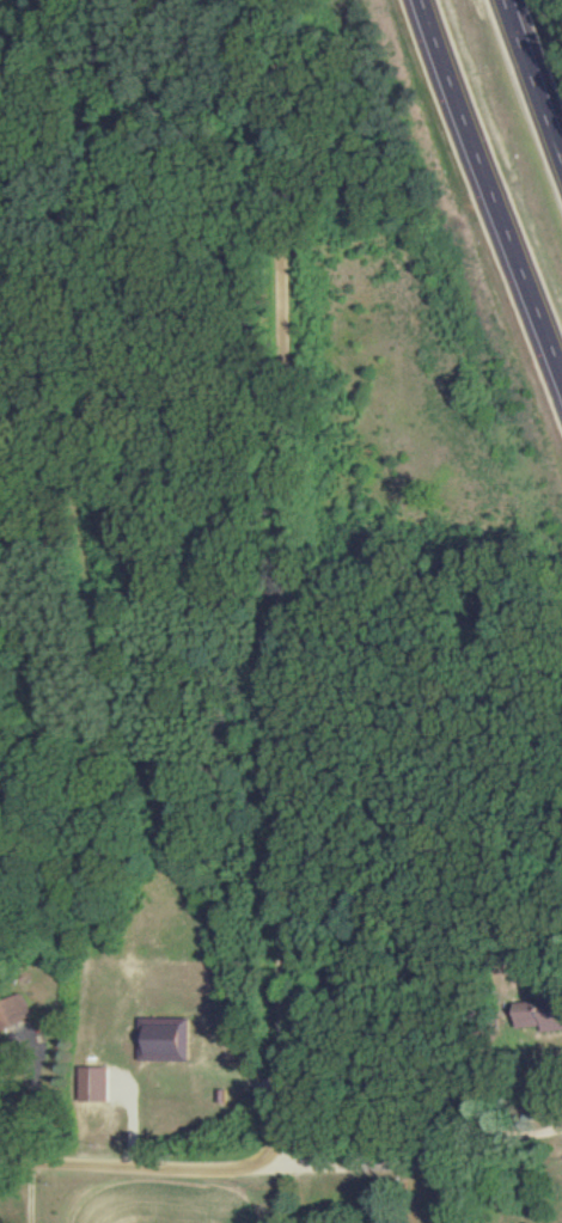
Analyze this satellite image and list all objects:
road: (202, 38)
road: (530, 84)
road: (488, 195)
road: (279, 585)
building: (538, 1019)
building: (93, 1084)
road: (37, 1101)
road: (509, 1130)
road: (273, 1169)

